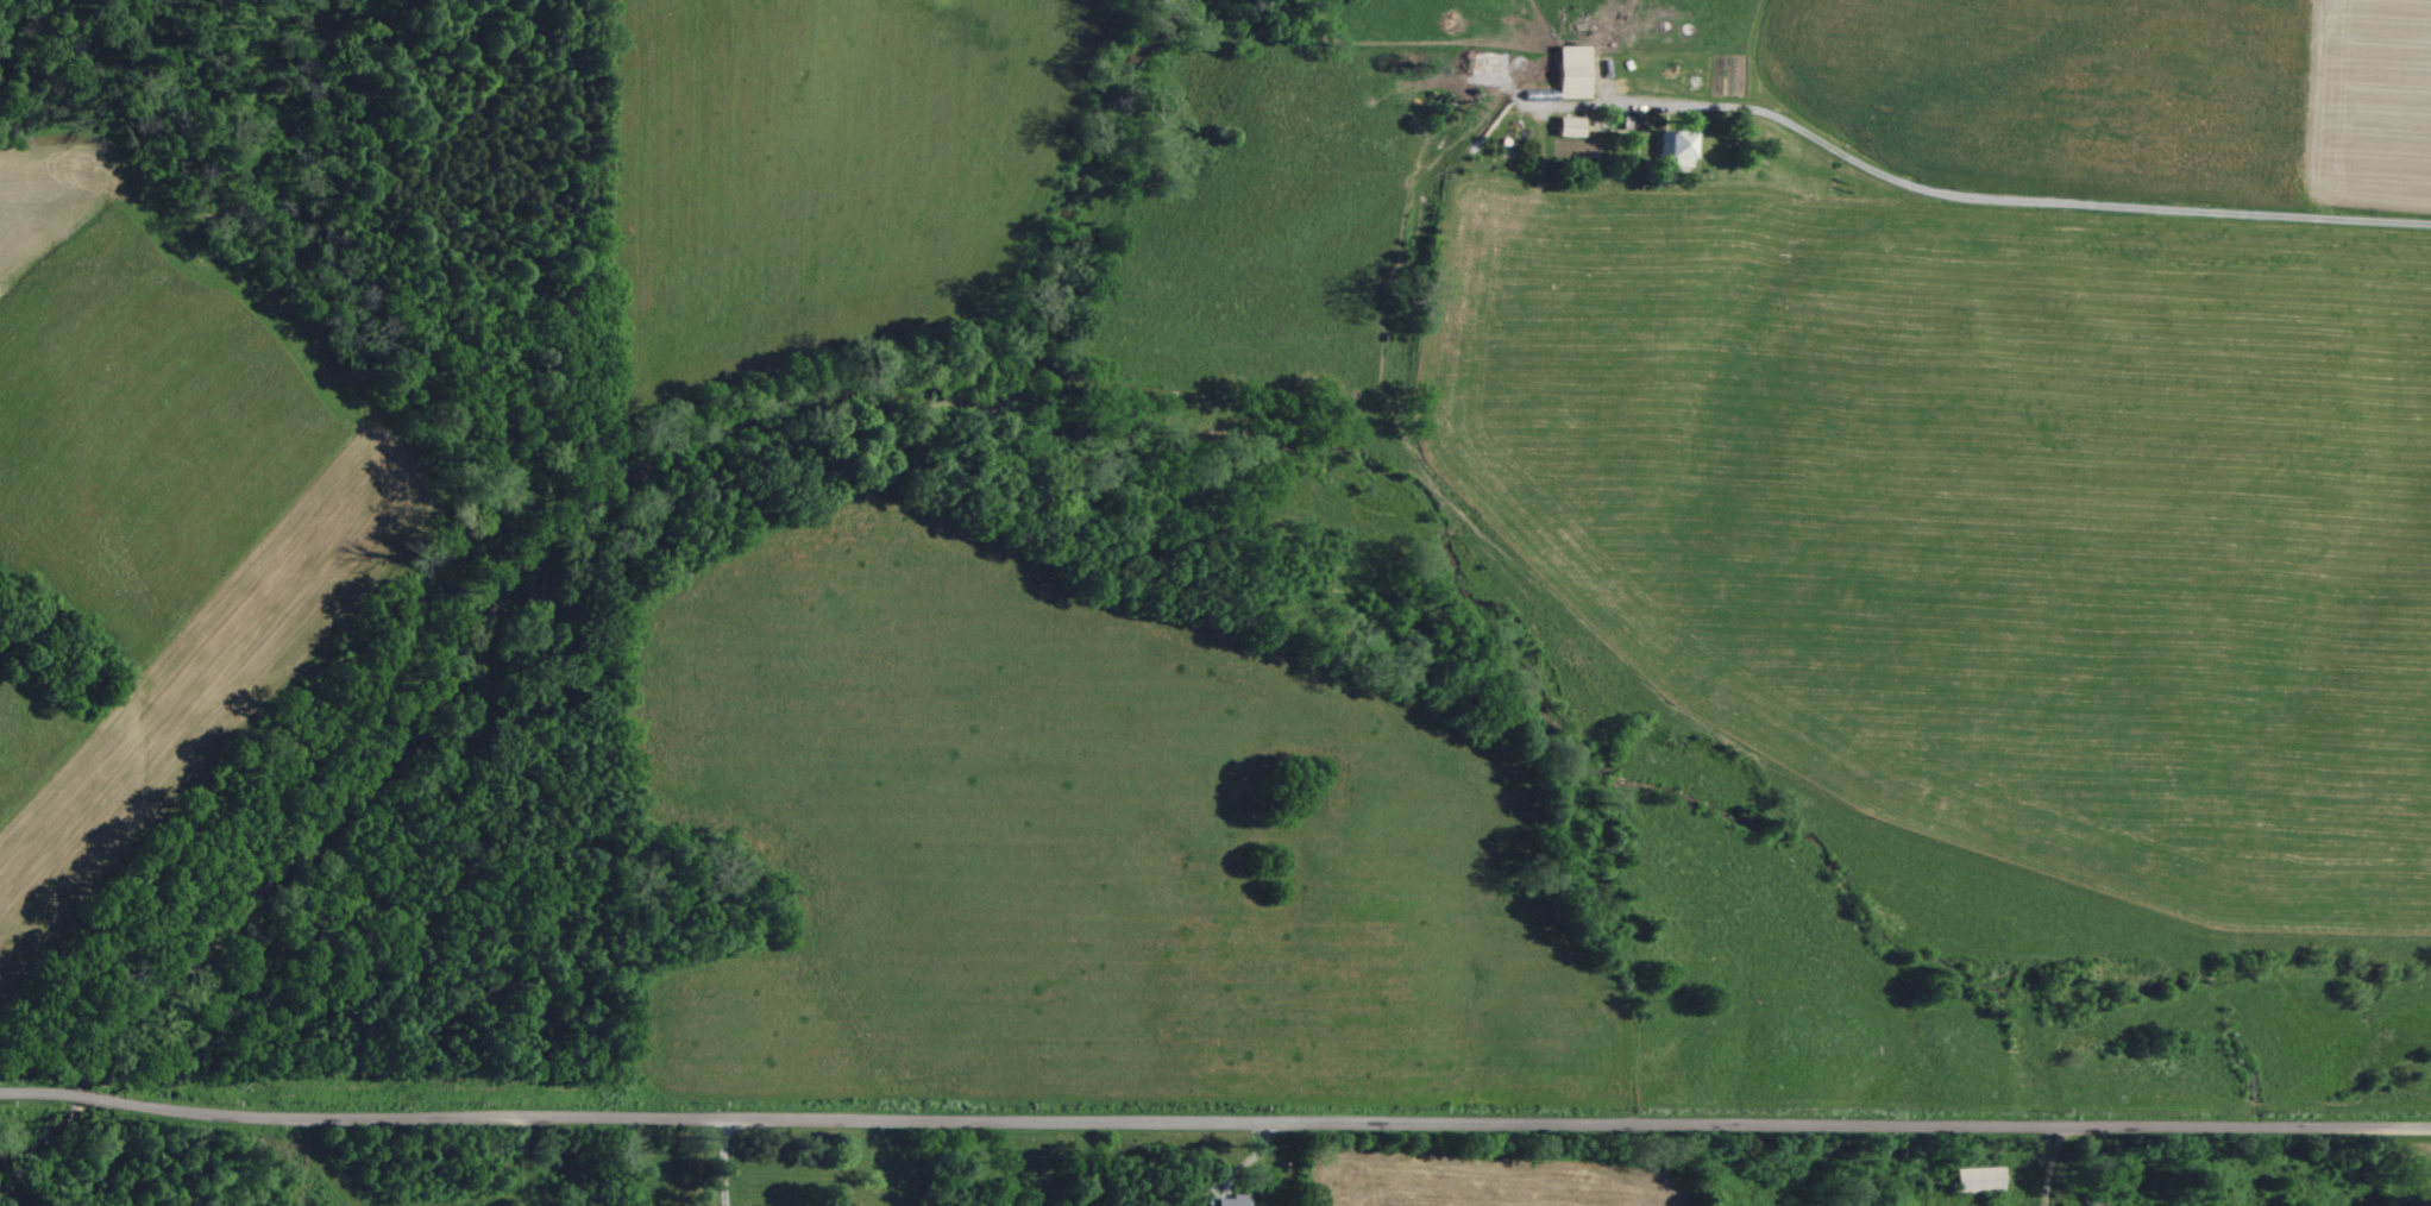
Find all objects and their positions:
building: (1573, 70)
building: (1571, 125)
road: (2033, 202)
road: (31, 1092)
road: (82, 1095)
road: (407, 1118)
road: (1572, 1132)
road: (716, 1162)
building: (1232, 1200)

